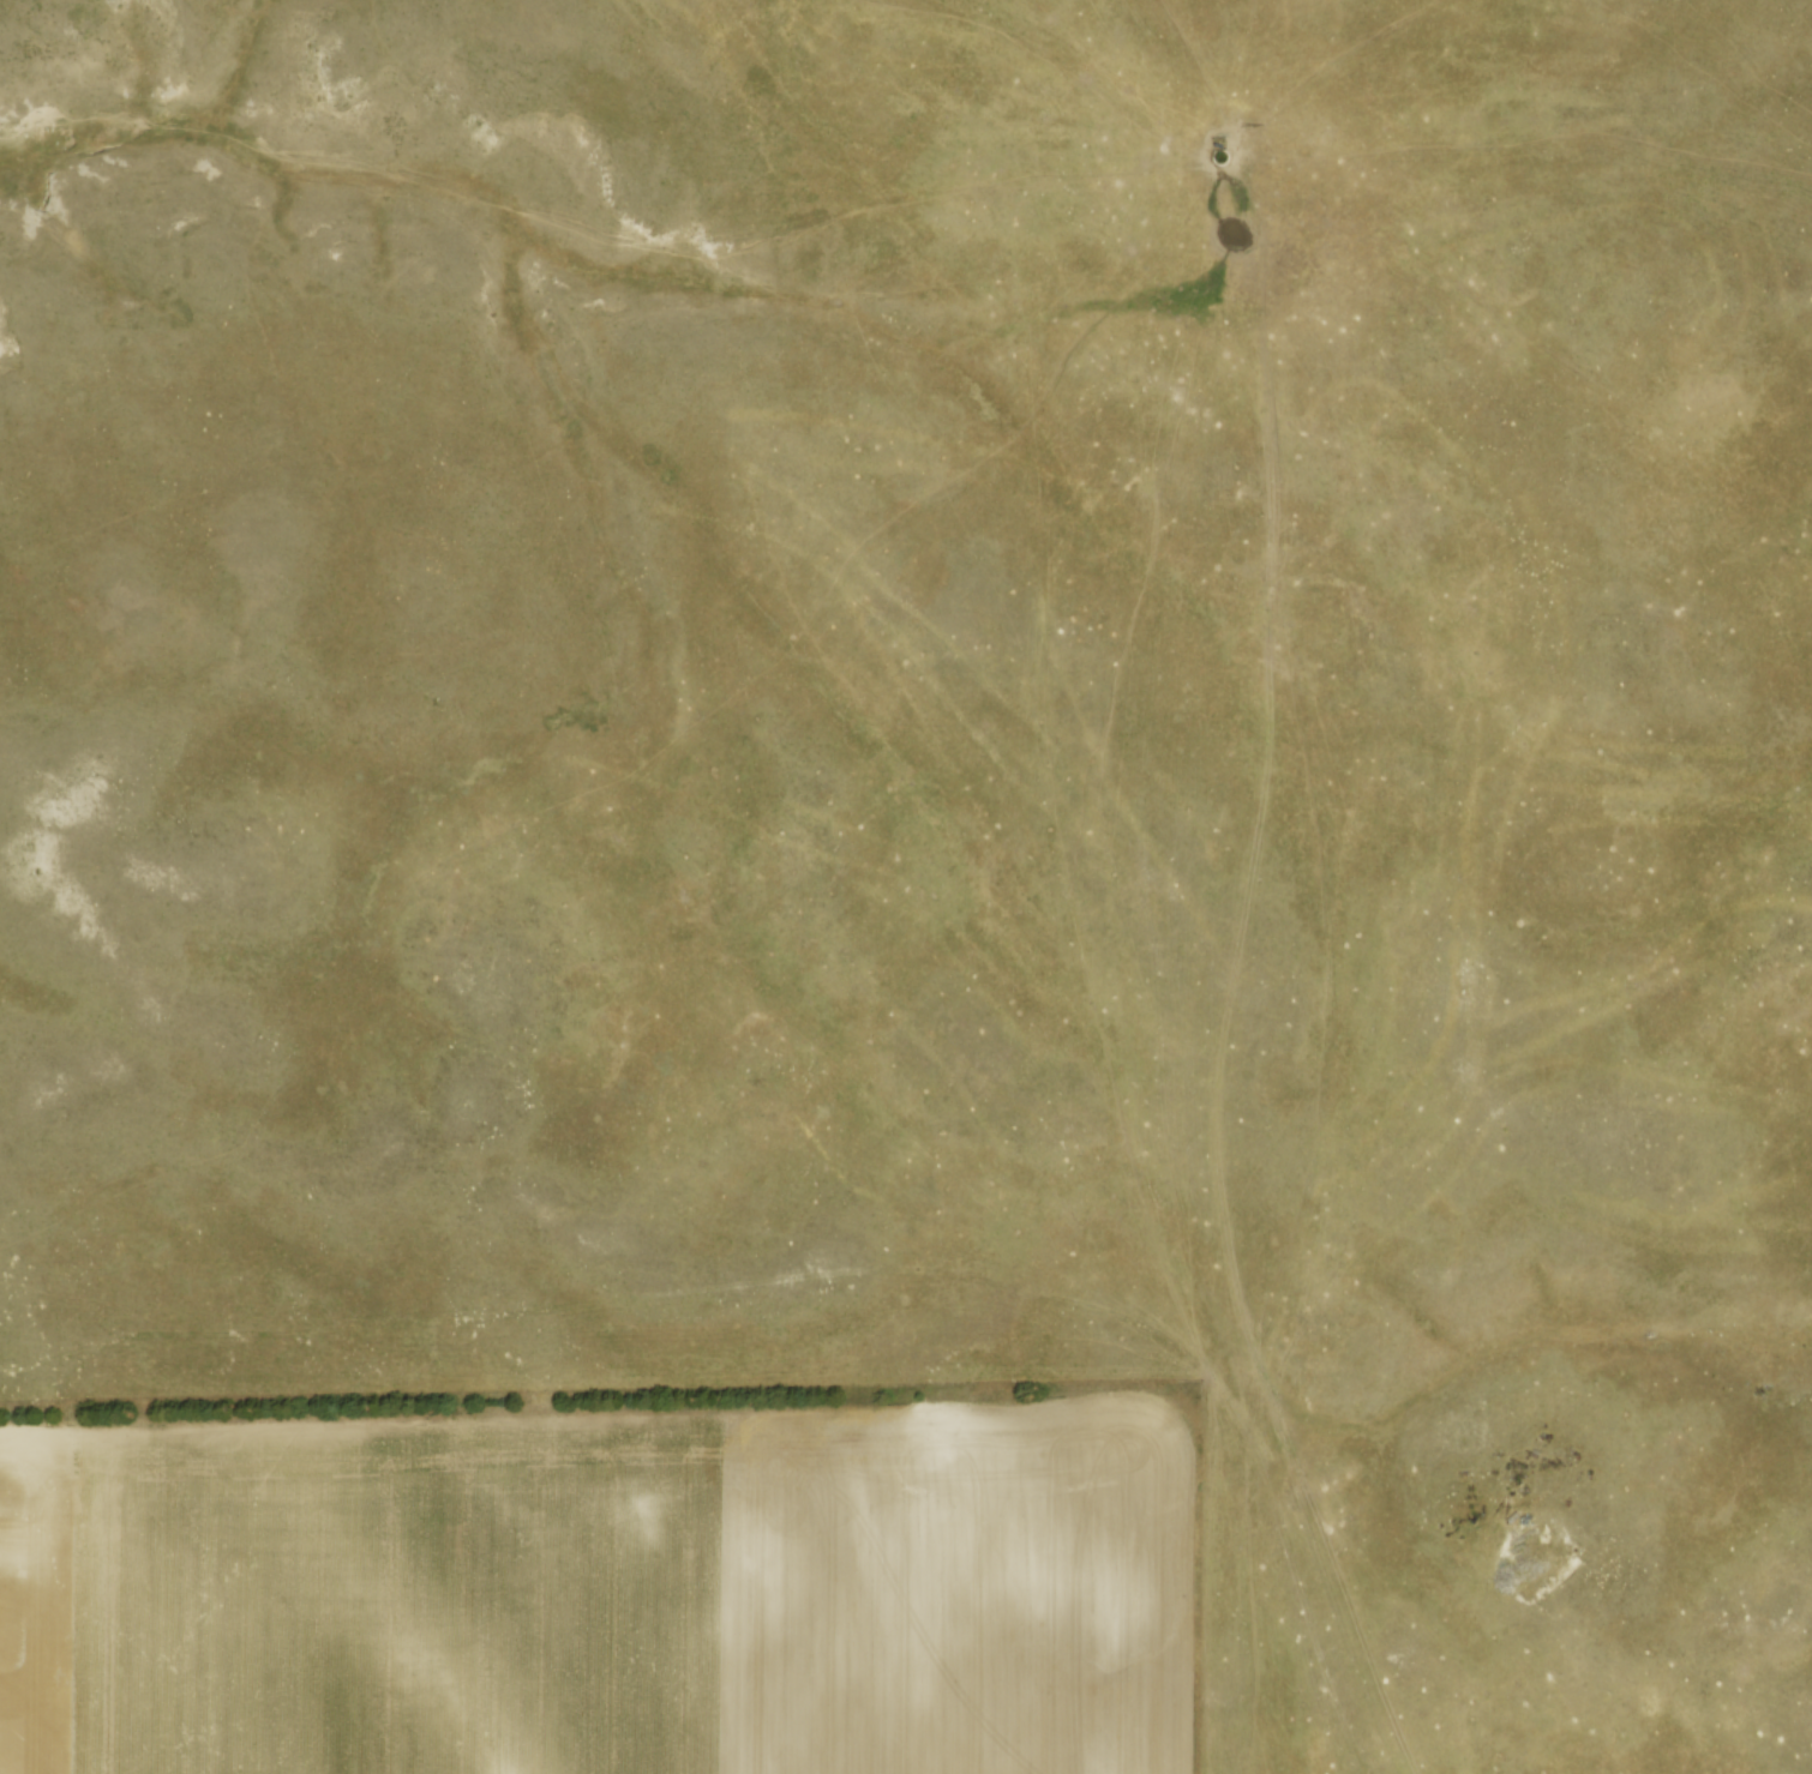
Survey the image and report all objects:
crop: (600, 1589)

